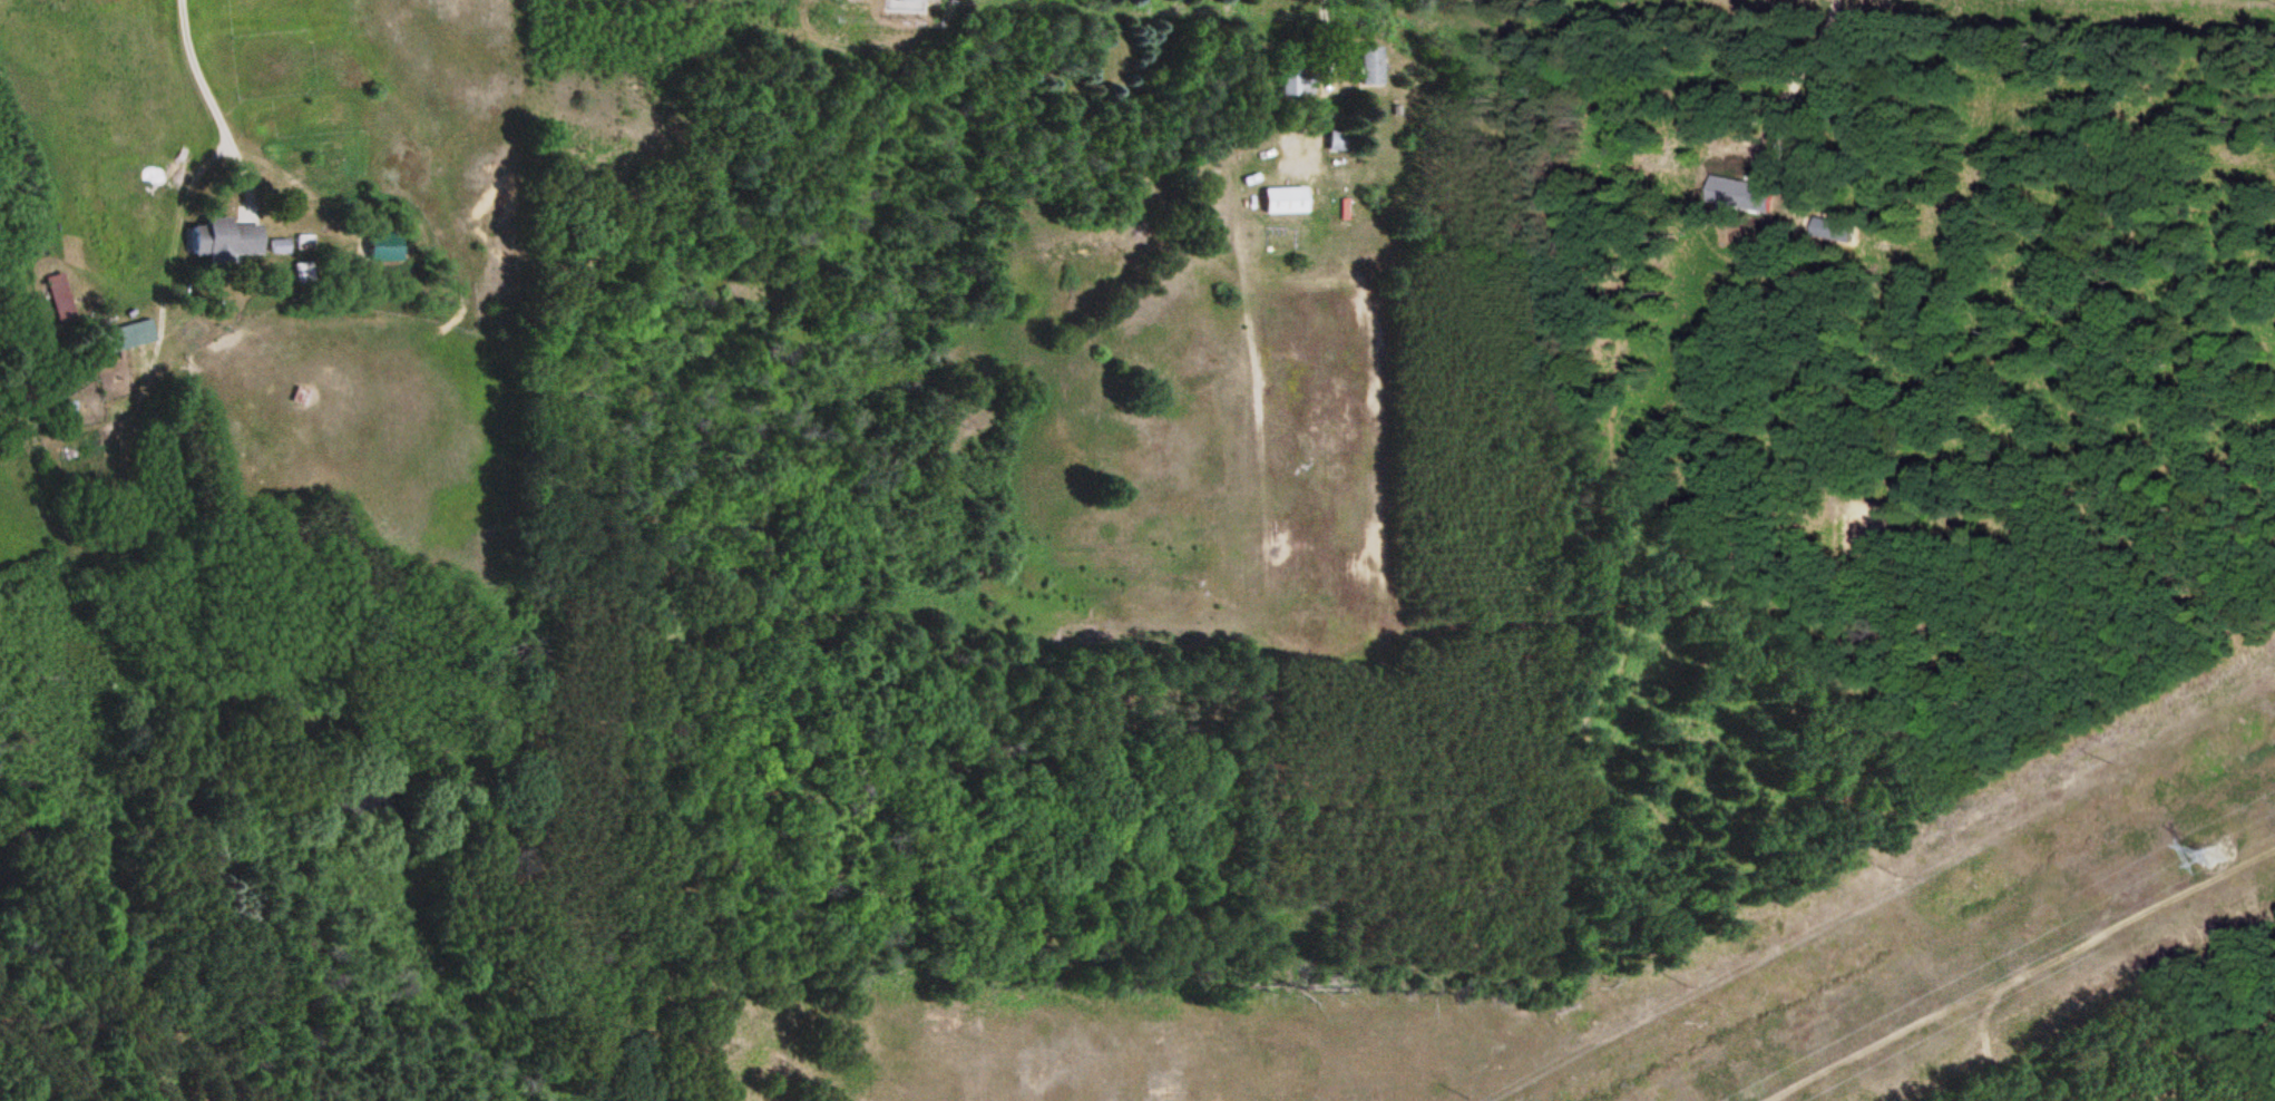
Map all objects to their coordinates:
building: (1366, 67)
building: (1292, 82)
building: (1275, 201)
building: (226, 237)
building: (281, 247)
building: (305, 273)
building: (60, 295)
power tower: (2214, 856)

